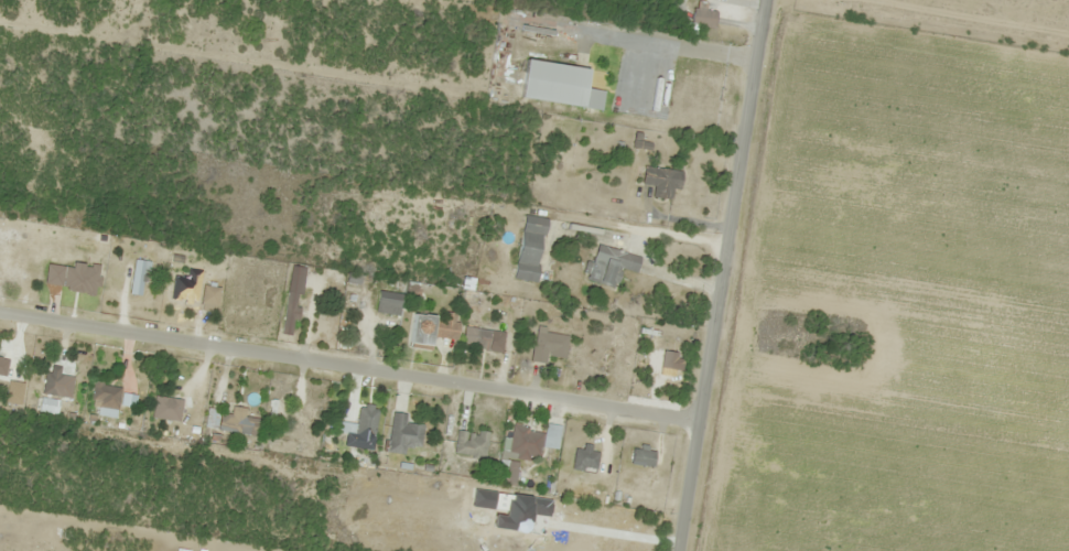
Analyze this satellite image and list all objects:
building: (561, 85)
building: (661, 181)
building: (8, 247)
building: (530, 249)
building: (612, 266)
road: (722, 275)
building: (140, 278)
building: (292, 301)
building: (389, 303)
building: (424, 331)
building: (550, 345)
road: (349, 367)
building: (54, 381)
building: (106, 395)
building: (272, 407)
building: (176, 409)
building: (346, 417)
building: (404, 433)
building: (532, 441)
building: (471, 443)
building: (644, 457)
building: (585, 460)
building: (510, 473)

